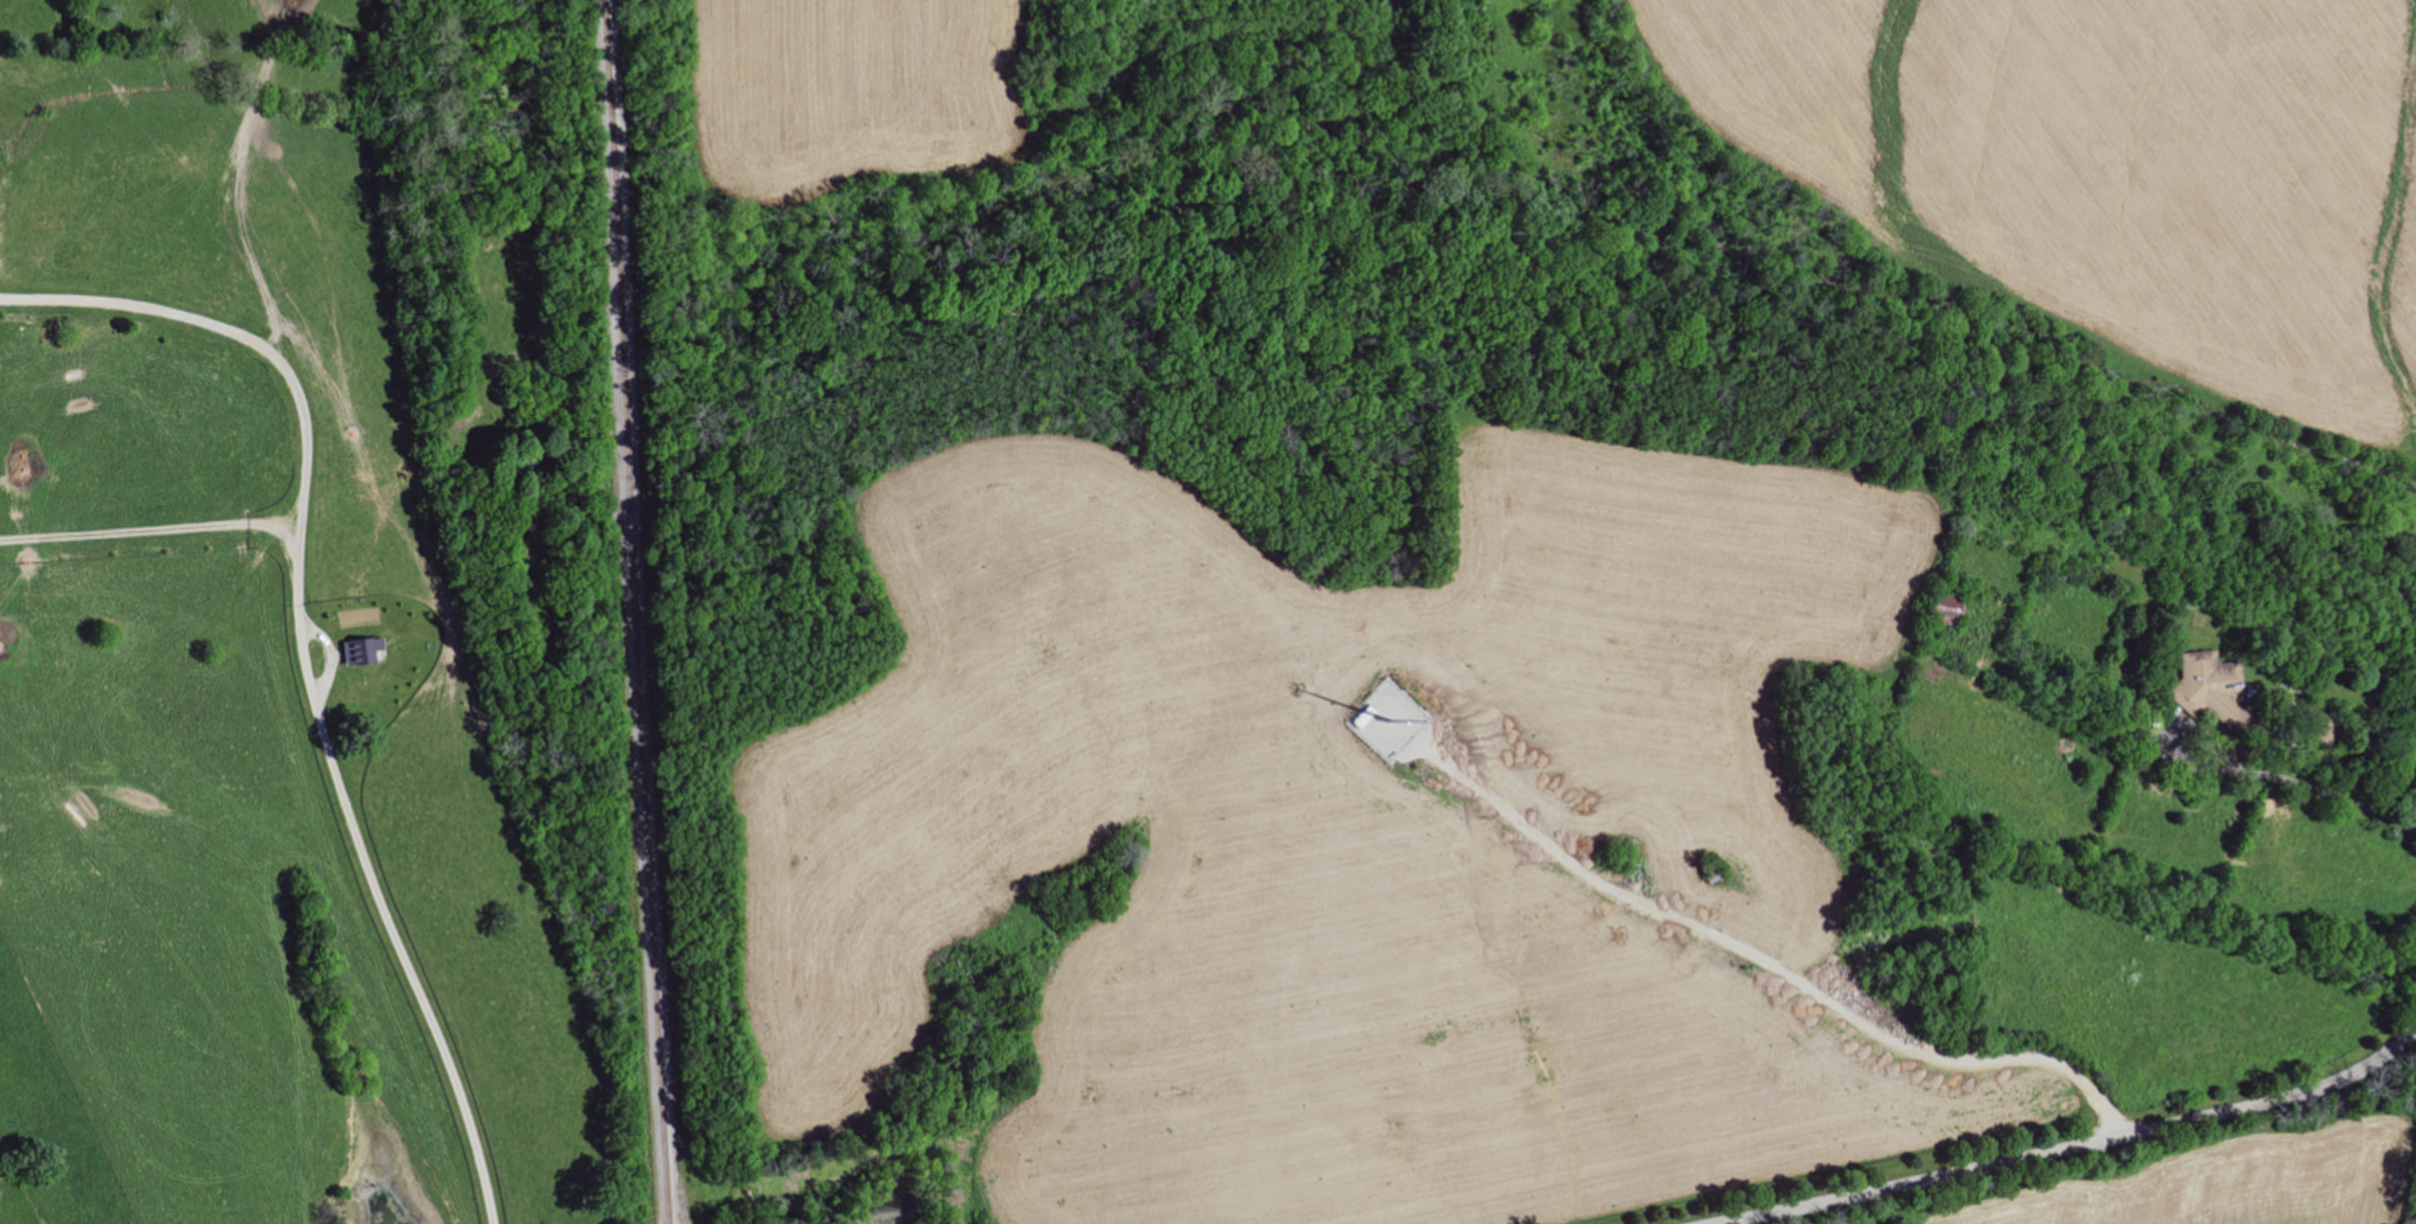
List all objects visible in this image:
road: (191, 79)
railway: (640, 611)
road: (318, 612)
building: (359, 651)
building: (2209, 688)
road: (2287, 778)
road: (1779, 973)
road: (2078, 1149)

